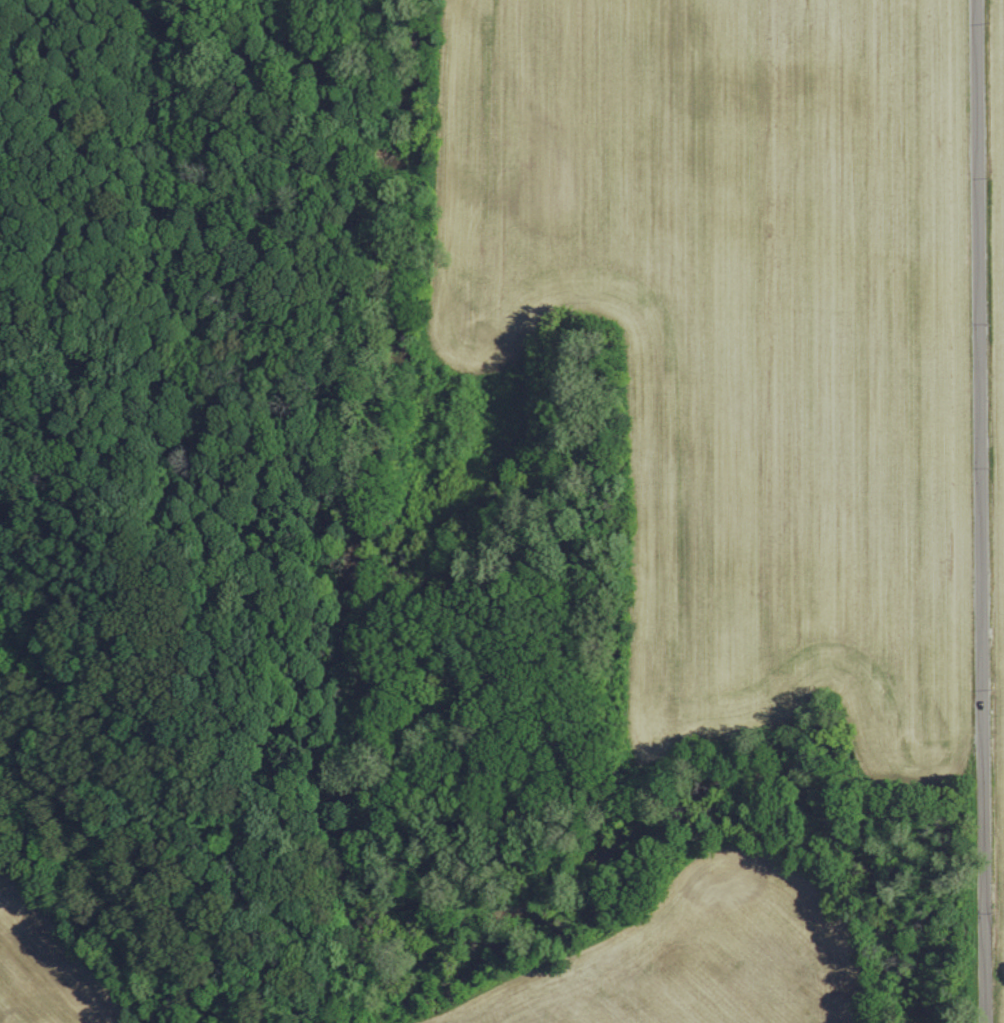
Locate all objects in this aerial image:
road: (984, 511)

